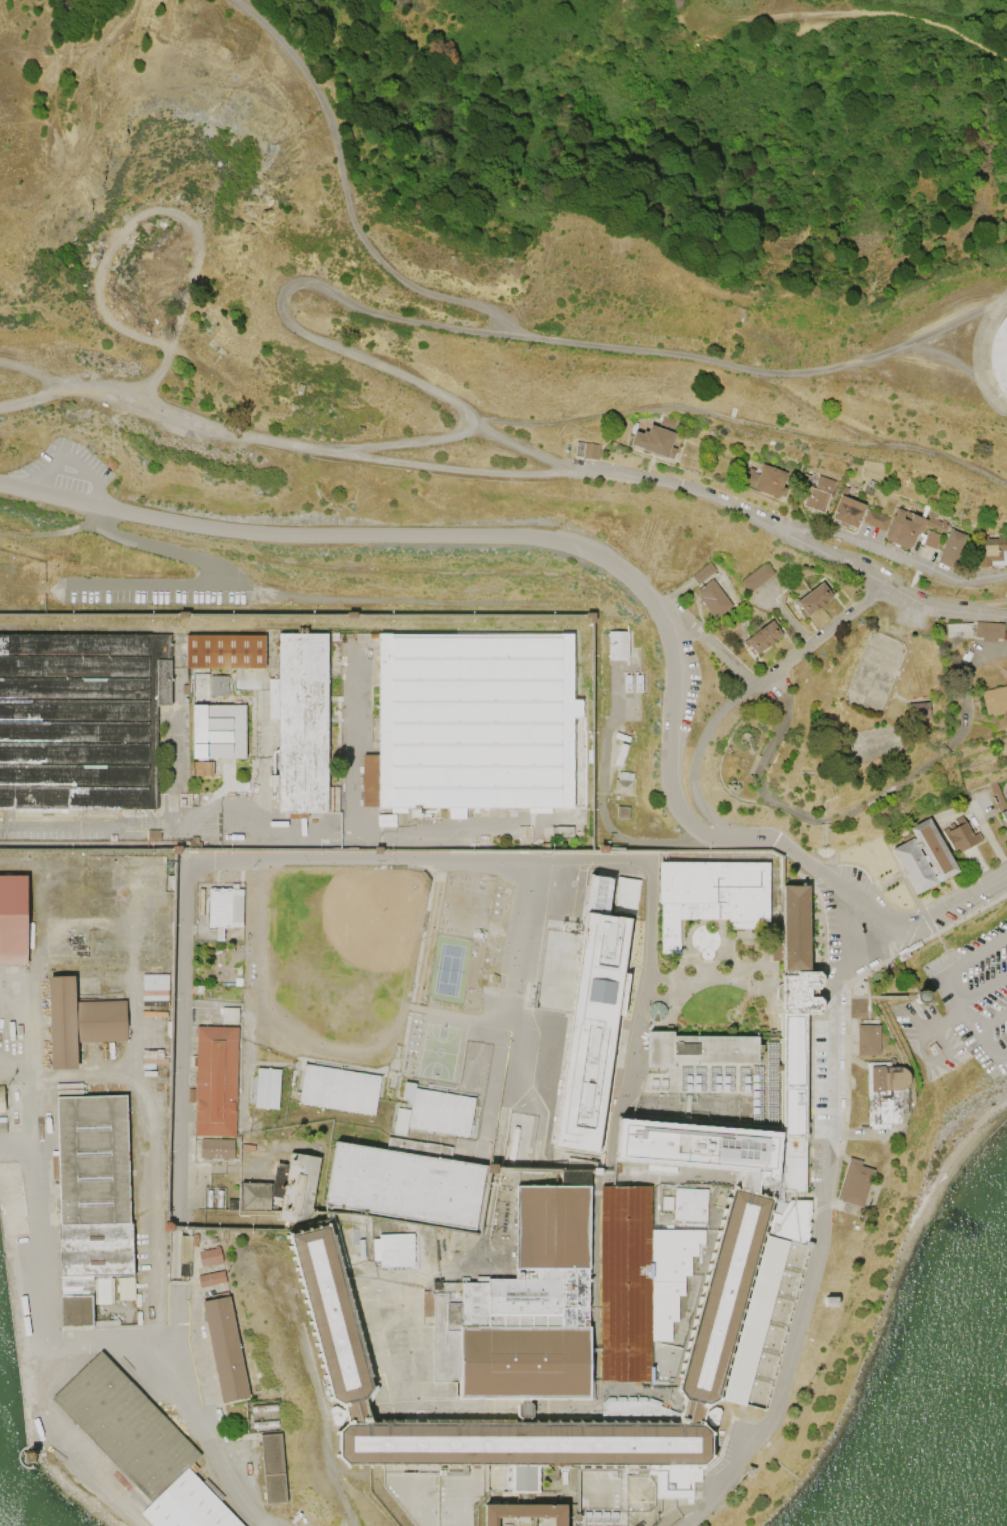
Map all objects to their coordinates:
building: (677, 4)
road: (851, 11)
road: (550, 120)
road: (345, 192)
road: (120, 235)
road: (996, 303)
road: (507, 334)
road: (940, 356)
building: (999, 356)
storage tank: (999, 356)
road: (37, 378)
building: (300, 389)
road: (810, 406)
road: (156, 408)
road: (743, 421)
building: (656, 438)
road: (450, 441)
building: (586, 450)
road: (445, 471)
building: (805, 477)
building: (765, 480)
building: (837, 483)
building: (868, 488)
building: (817, 493)
building: (846, 509)
building: (875, 518)
building: (909, 526)
building: (930, 539)
road: (797, 541)
road: (575, 548)
building: (951, 548)
building: (990, 550)
road: (891, 556)
building: (702, 572)
building: (756, 576)
building: (712, 598)
building: (812, 599)
building: (353, 615)
building: (591, 616)
building: (958, 630)
building: (988, 630)
building: (763, 636)
building: (334, 637)
building: (617, 645)
road: (712, 647)
building: (226, 652)
building: (196, 680)
building: (626, 683)
building: (638, 683)
building: (219, 686)
building: (184, 689)
road: (742, 694)
building: (994, 700)
building: (917, 710)
building: (81, 718)
building: (467, 722)
building: (303, 724)
building: (219, 731)
building: (621, 736)
building: (620, 754)
building: (202, 768)
building: (622, 783)
building: (996, 794)
building: (182, 799)
road: (859, 808)
building: (621, 812)
building: (1004, 815)
building: (561, 831)
building: (153, 835)
building: (960, 835)
building: (112, 838)
building: (177, 850)
building: (923, 856)
building: (712, 897)
building: (201, 900)
building: (224, 912)
park: (374, 914)
building: (12, 919)
road: (923, 920)
building: (796, 930)
building: (906, 950)
building: (775, 951)
park: (451, 970)
park: (311, 978)
building: (495, 978)
building: (239, 980)
road: (984, 985)
road: (955, 989)
road: (893, 996)
building: (920, 996)
road: (853, 997)
parking lot: (962, 1009)
building: (595, 1014)
building: (229, 1015)
road: (993, 1018)
building: (82, 1020)
building: (871, 1041)
park: (439, 1050)
building: (699, 1050)
building: (796, 1071)
building: (218, 1080)
building: (267, 1088)
building: (338, 1089)
building: (407, 1093)
building: (888, 1095)
building: (1, 1102)
building: (441, 1114)
building: (401, 1122)
road: (14, 1148)
building: (217, 1149)
building: (703, 1149)
building: (541, 1177)
building: (855, 1184)
building: (404, 1186)
building: (299, 1189)
building: (263, 1191)
building: (93, 1204)
building: (687, 1206)
building: (319, 1215)
building: (791, 1222)
building: (317, 1223)
building: (393, 1251)
building: (210, 1258)
road: (815, 1265)
building: (211, 1279)
building: (638, 1283)
building: (522, 1310)
building: (687, 1313)
building: (730, 1327)
road: (106, 1345)
building: (225, 1350)
building: (140, 1446)
building: (273, 1469)
building: (675, 1481)
building: (525, 1514)

